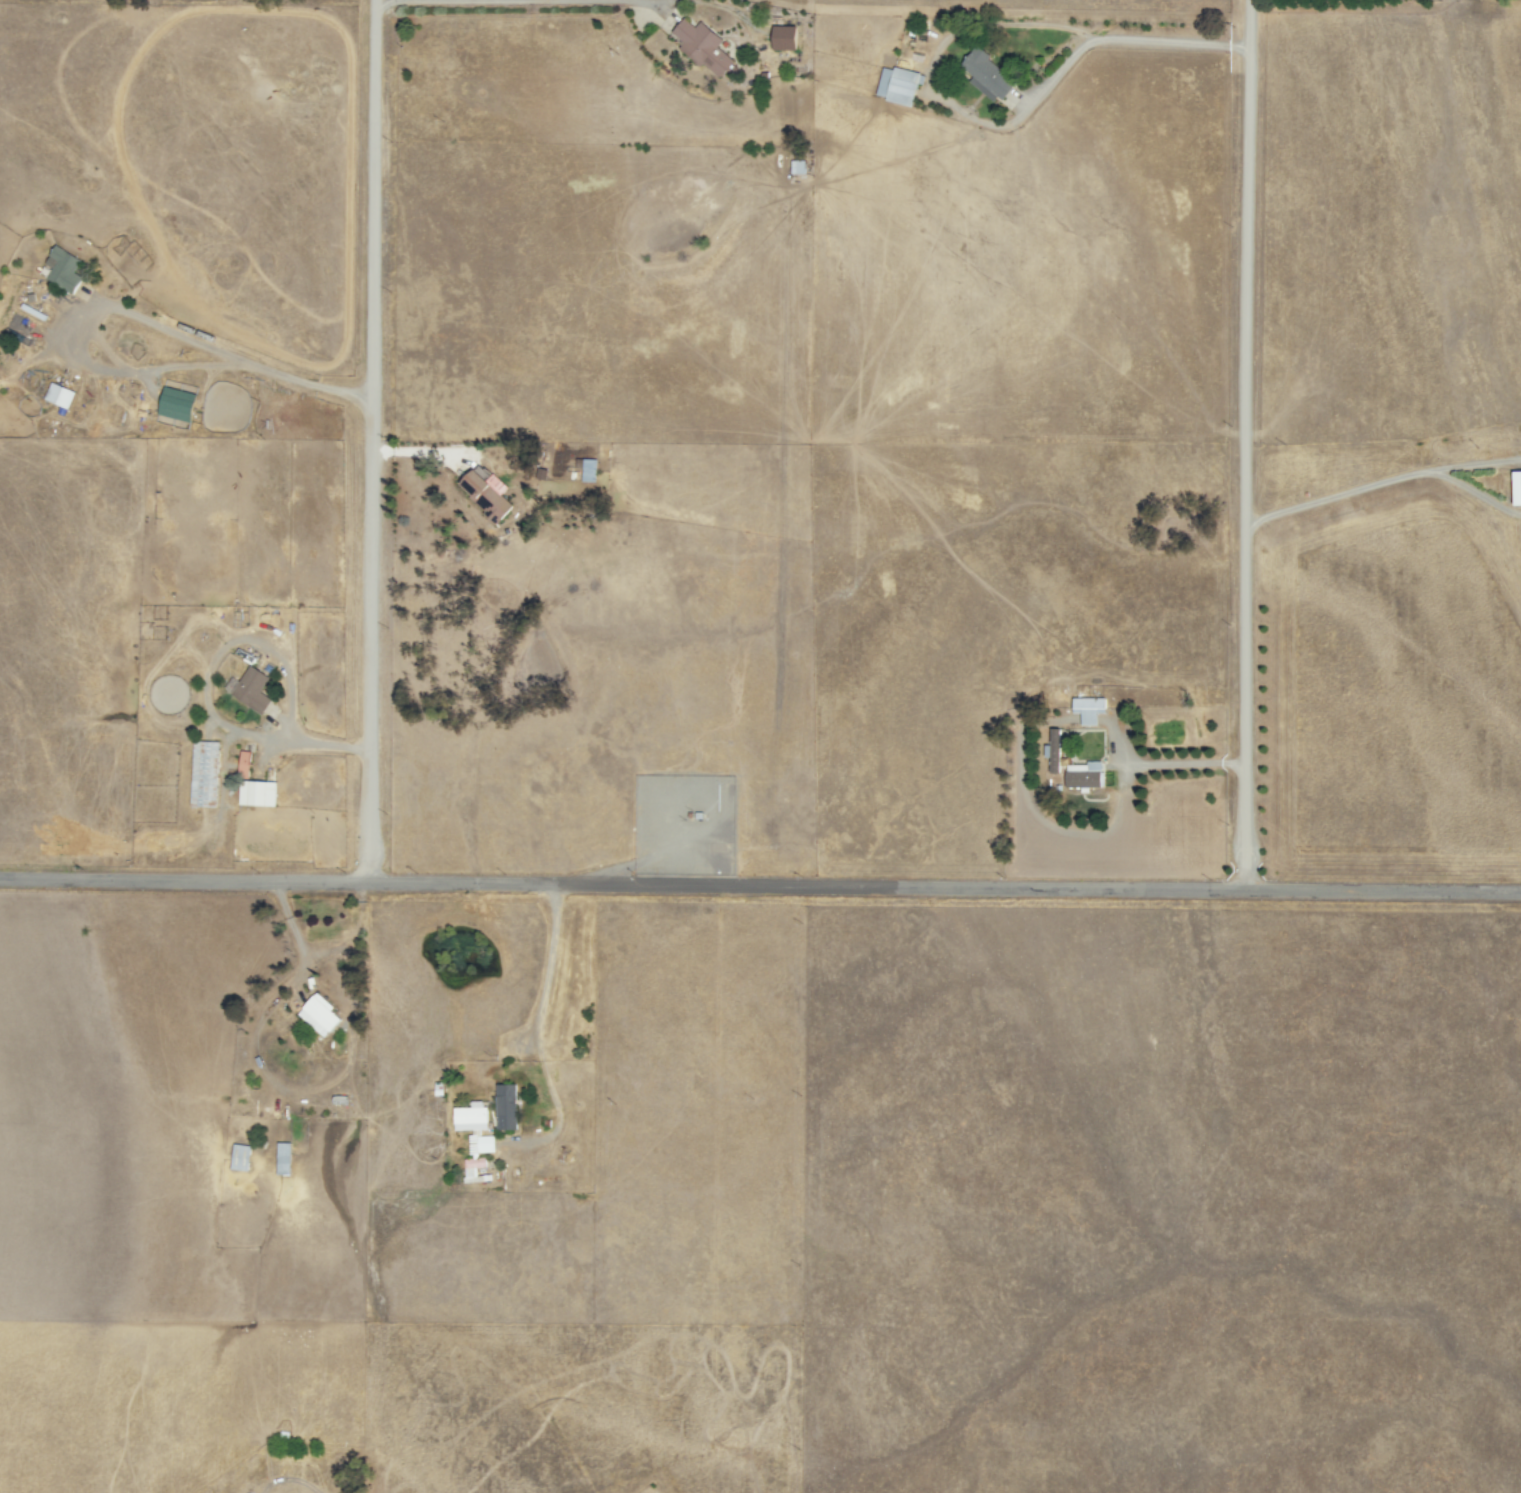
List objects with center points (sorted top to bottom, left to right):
road: (386, 2)
building: (785, 37)
road: (1118, 39)
building: (703, 46)
building: (977, 74)
building: (796, 167)
building: (64, 270)
road: (128, 311)
building: (58, 395)
building: (176, 404)
road: (369, 441)
road: (1242, 444)
building: (586, 469)
building: (1512, 488)
building: (487, 494)
building: (250, 689)
building: (1083, 709)
building: (244, 765)
building: (203, 774)
building: (1078, 775)
building: (255, 793)
road: (760, 886)
building: (318, 1014)
building: (506, 1106)
building: (473, 1137)
building: (239, 1157)
building: (283, 1158)

